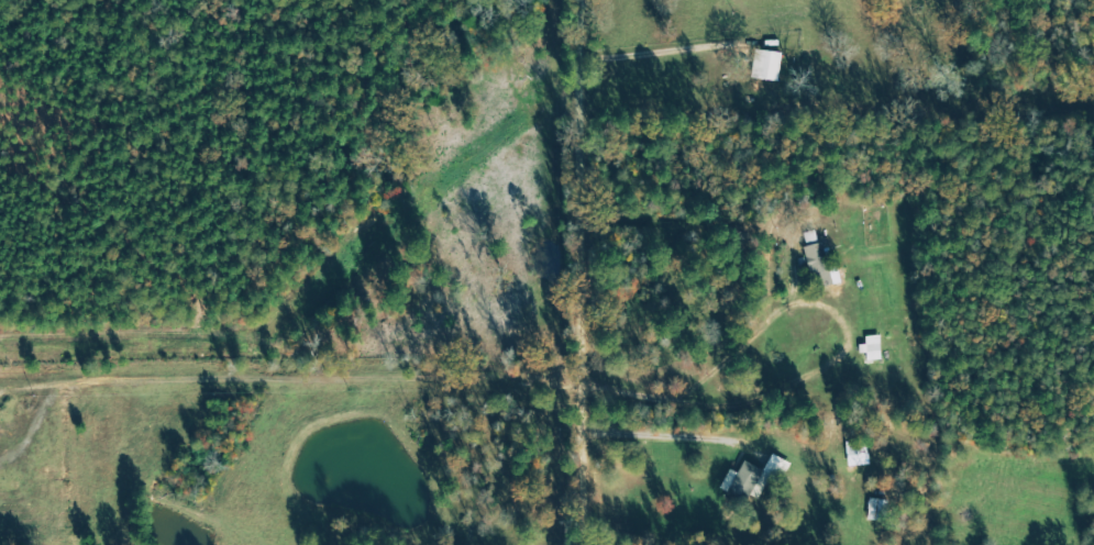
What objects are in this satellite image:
building: (767, 66)
building: (811, 236)
building: (822, 264)
road: (574, 271)
building: (873, 348)
road: (698, 383)
building: (754, 479)

